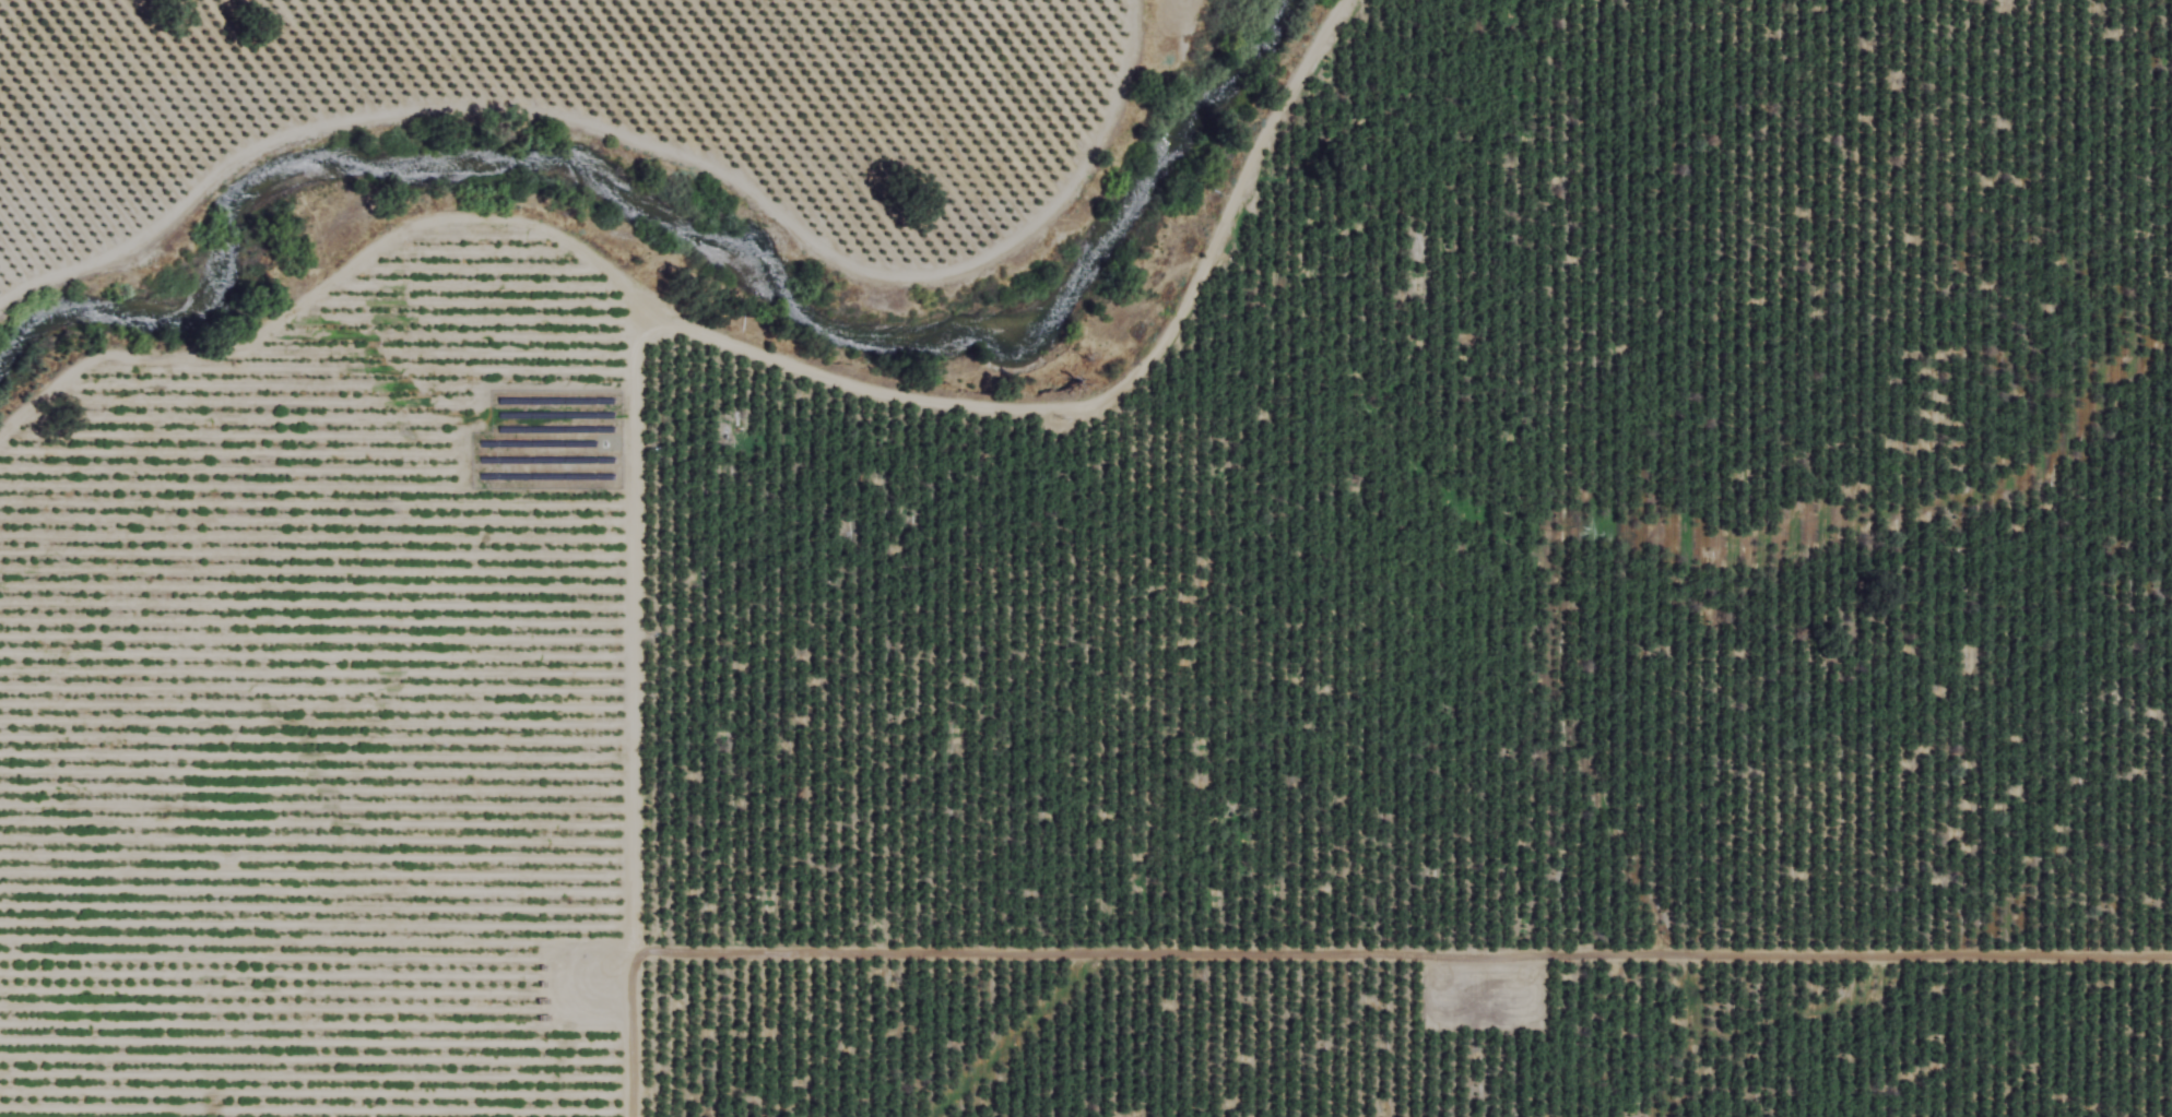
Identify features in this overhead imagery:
crop: (1090, 575)

